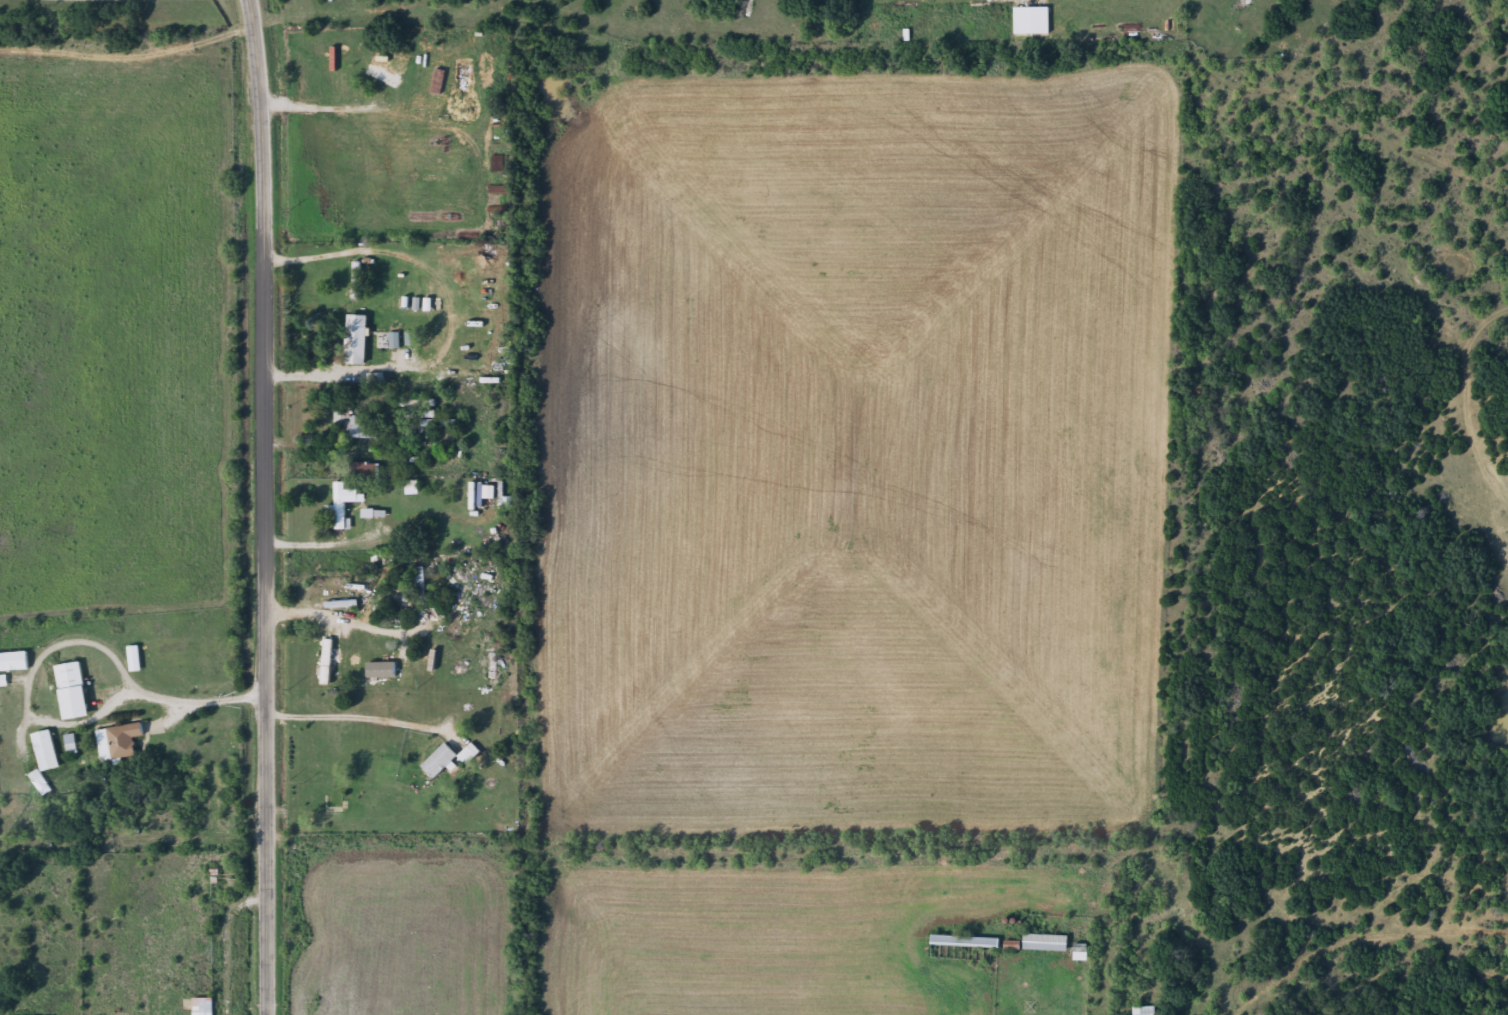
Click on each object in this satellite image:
building: (1030, 25)
building: (381, 75)
building: (360, 347)
building: (438, 426)
building: (353, 428)
building: (363, 473)
building: (344, 505)
road: (265, 507)
building: (133, 661)
building: (326, 664)
building: (13, 665)
building: (380, 672)
building: (71, 693)
building: (117, 744)
building: (45, 753)
building: (438, 763)
building: (39, 785)
road: (781, 859)
road: (133, 863)
building: (964, 944)
building: (1044, 945)
building: (202, 1007)
building: (1143, 1012)

